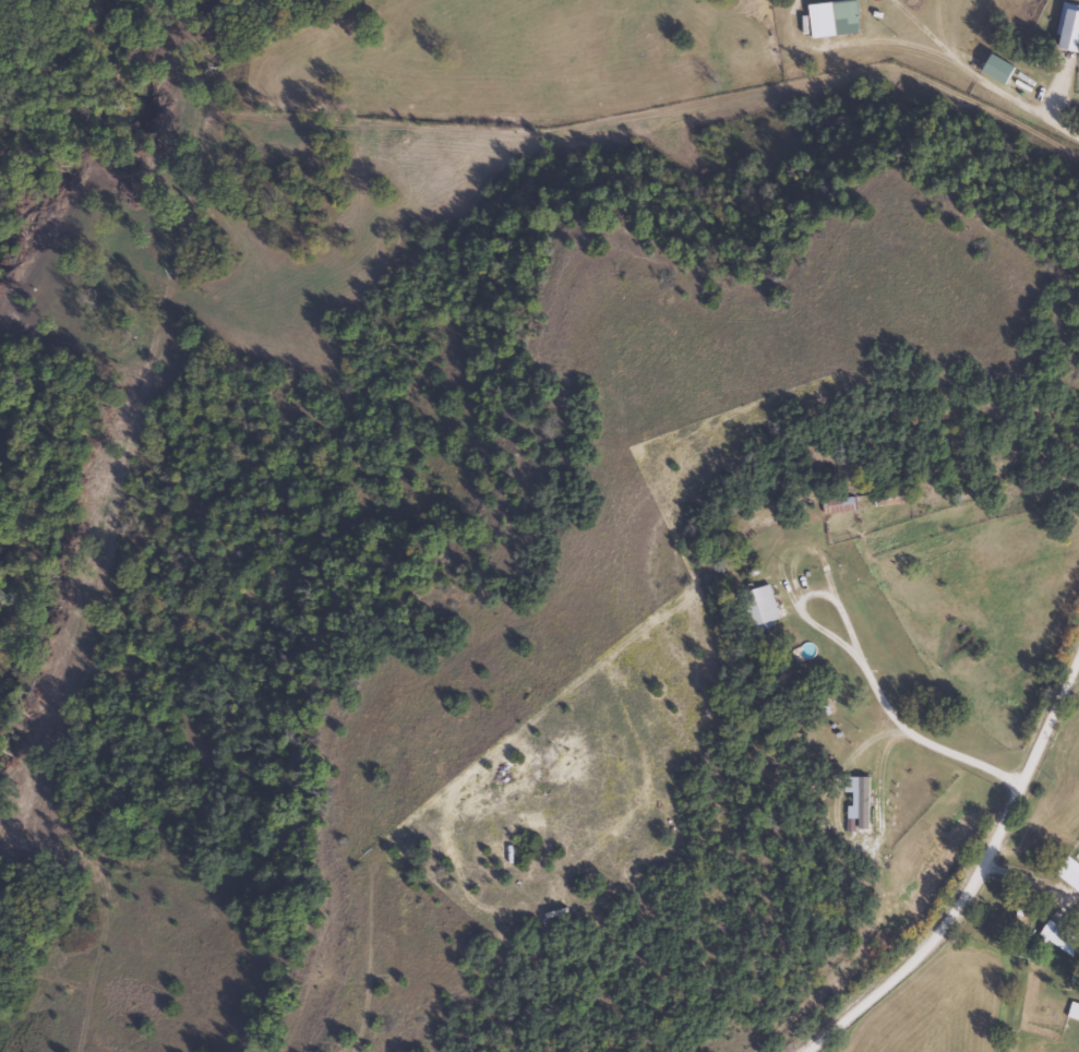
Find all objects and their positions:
road: (1076, 1)
building: (832, 20)
building: (1068, 23)
building: (837, 504)
building: (758, 607)
road: (958, 869)
building: (1068, 874)
road: (424, 916)
building: (1058, 939)
building: (1072, 1012)

